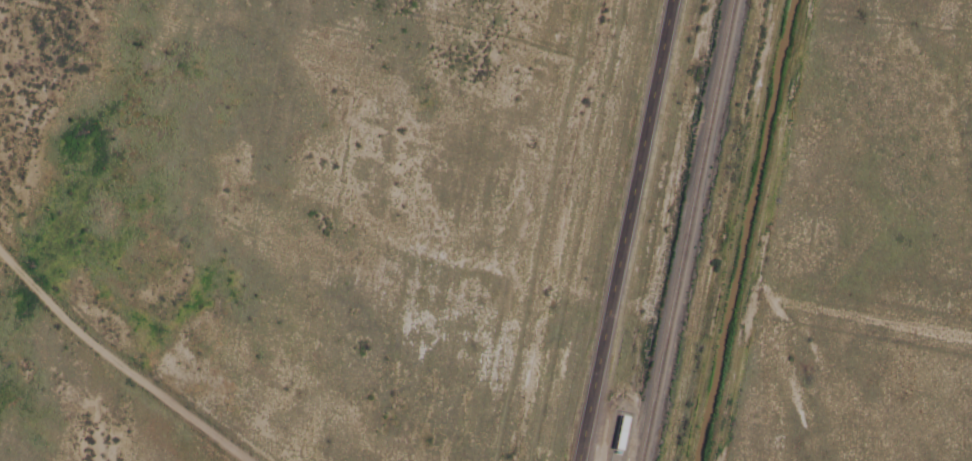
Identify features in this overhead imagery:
road: (623, 230)
railway: (685, 230)
road: (732, 230)
road: (758, 230)
road: (119, 361)
building: (618, 435)

